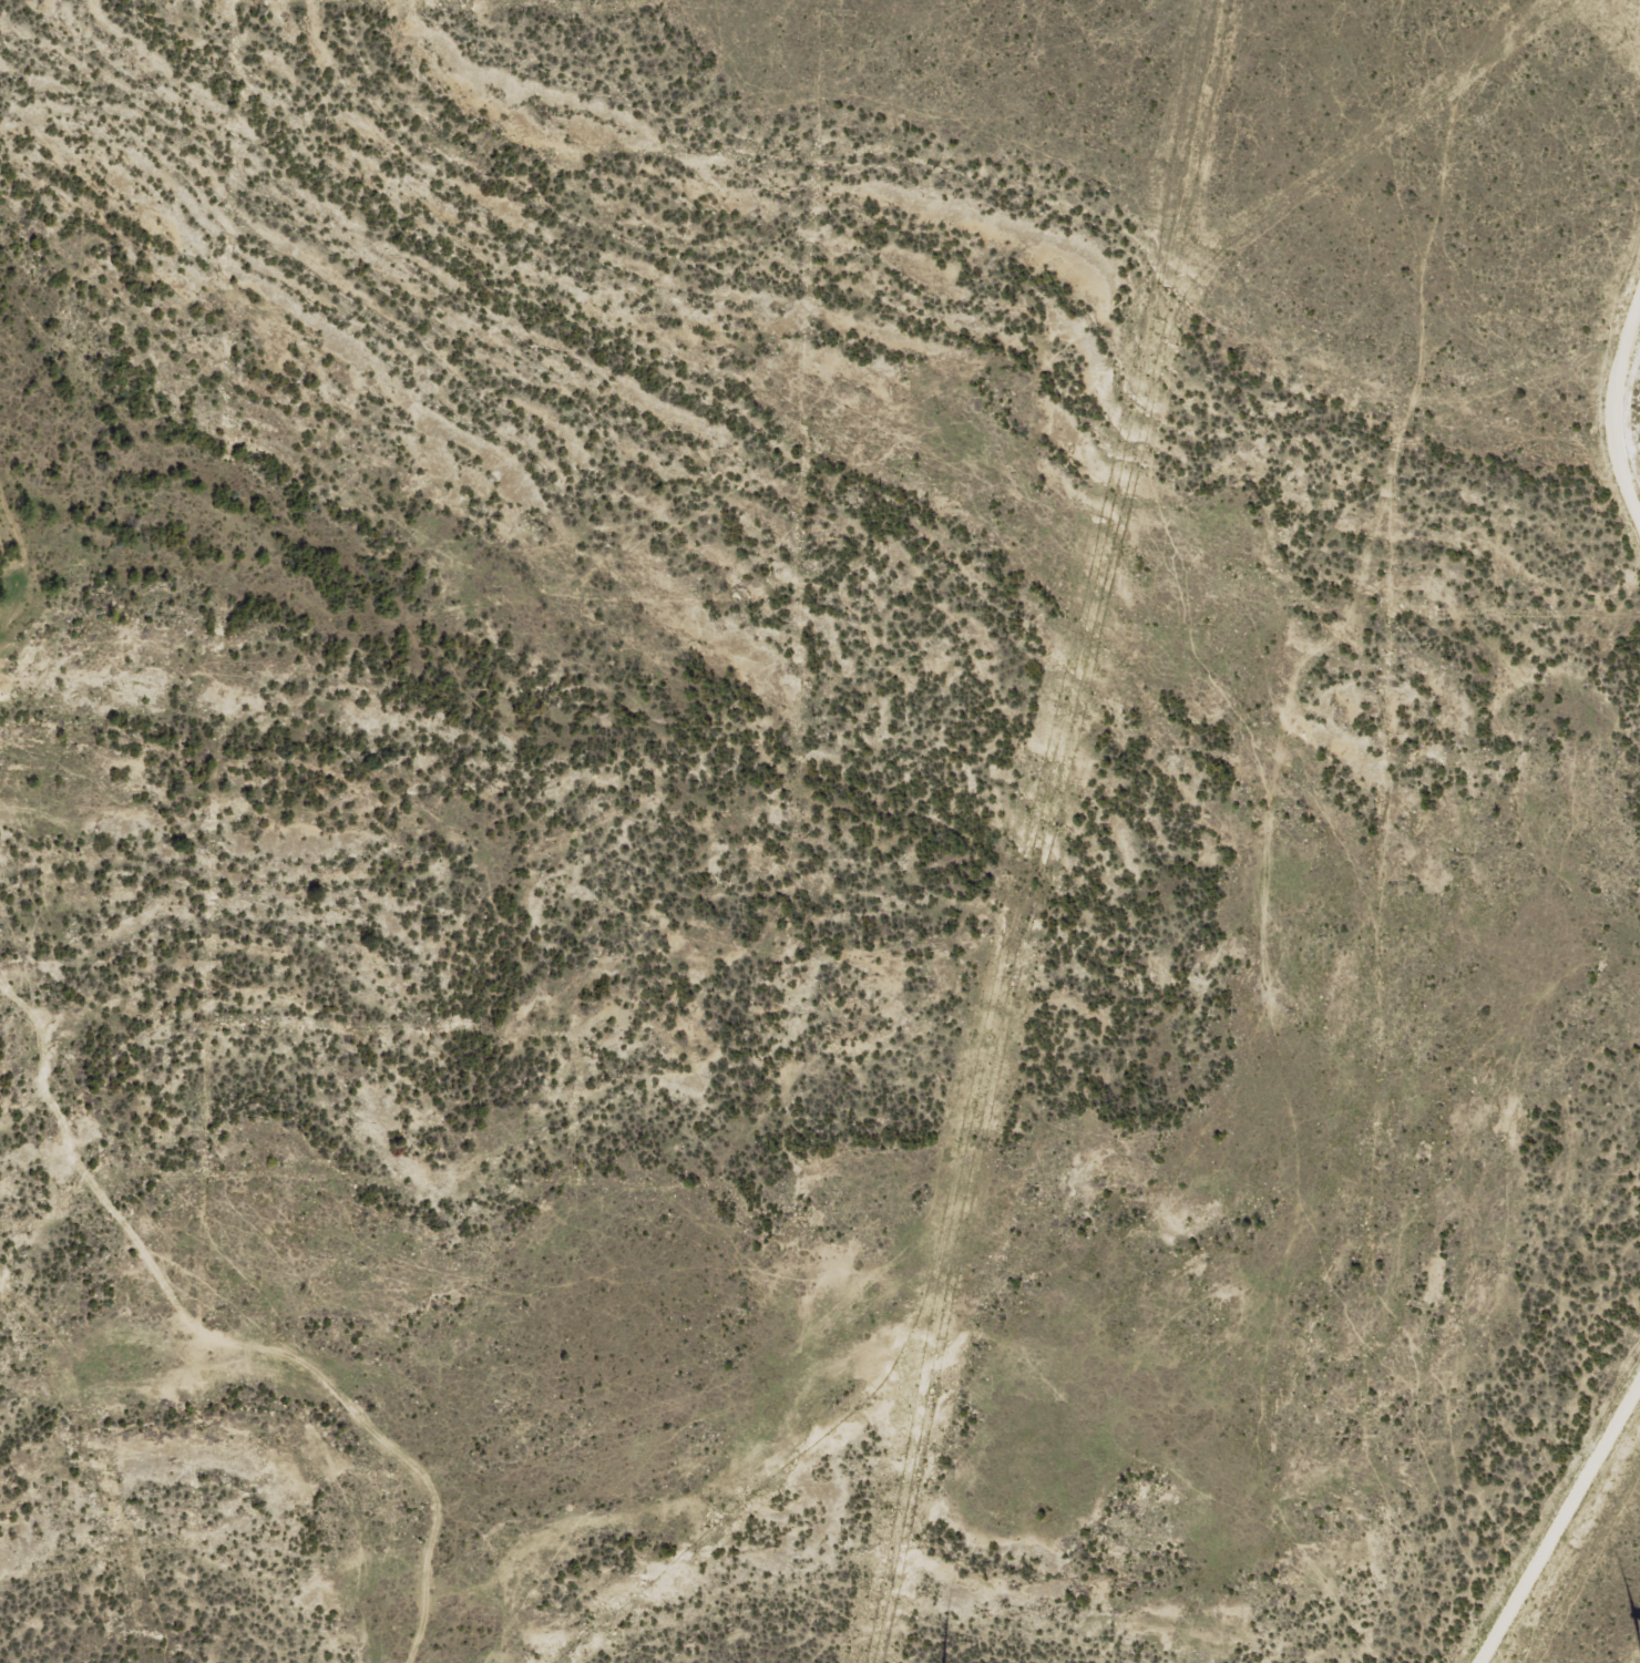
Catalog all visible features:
road: (1613, 409)
road: (27, 586)
road: (235, 1349)
road: (1559, 1525)

